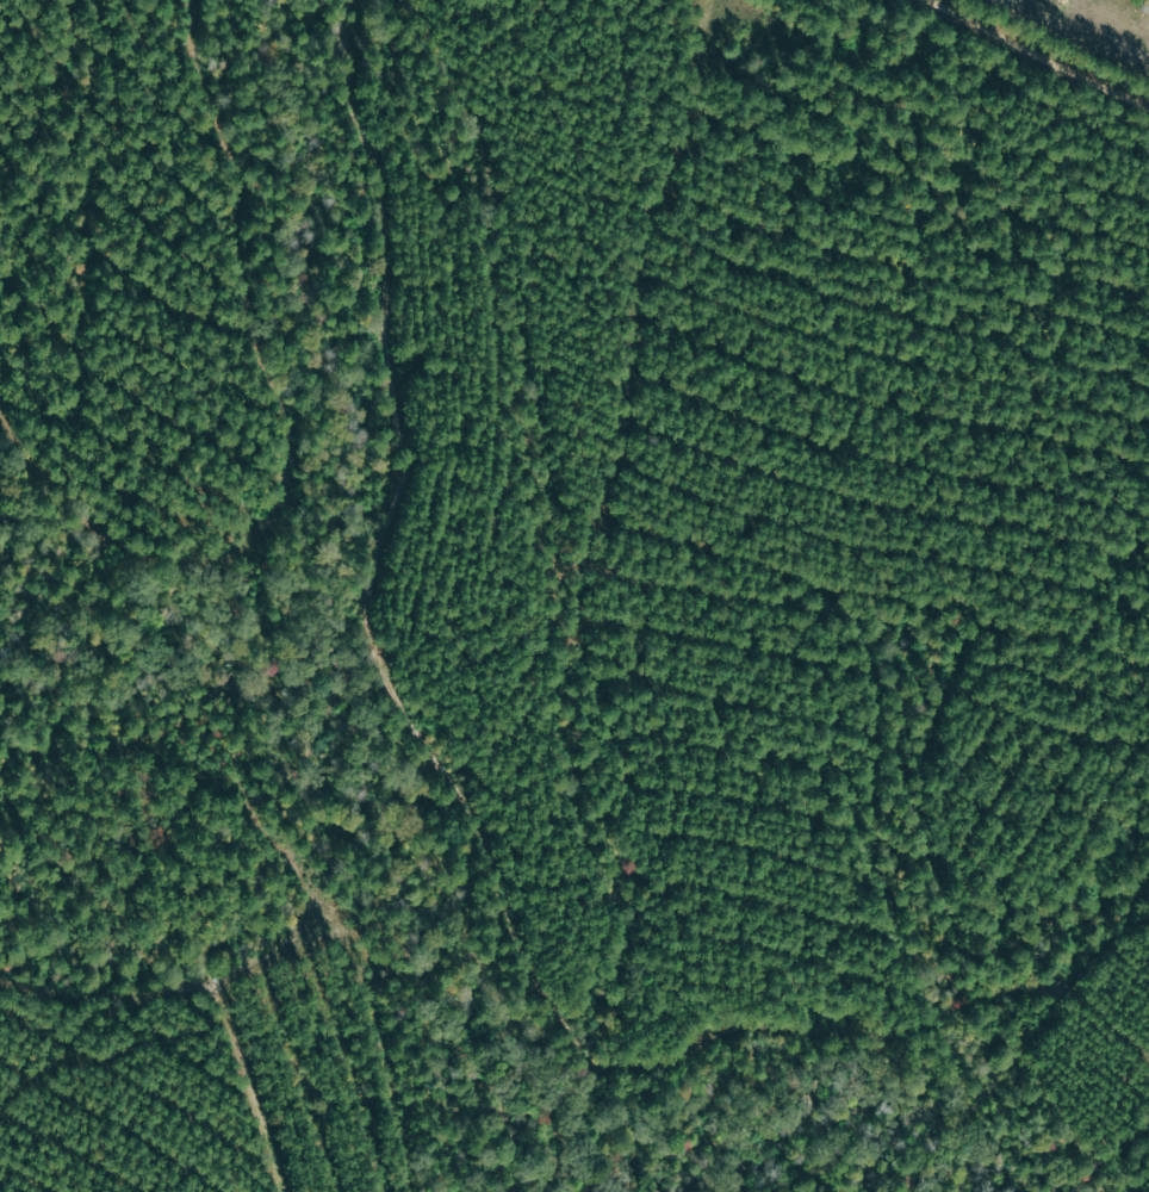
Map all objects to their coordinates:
road: (1079, 31)
road: (541, 642)

